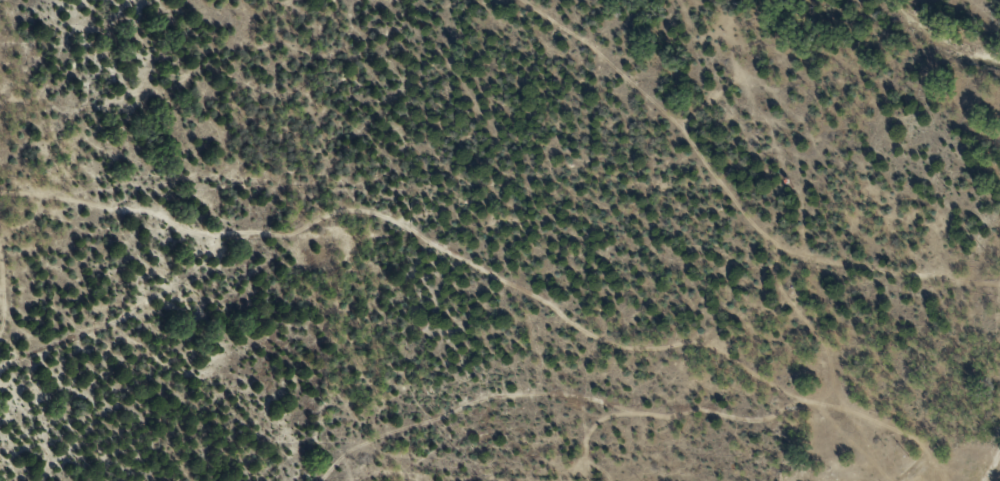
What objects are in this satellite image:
road: (656, 362)
building: (821, 369)

